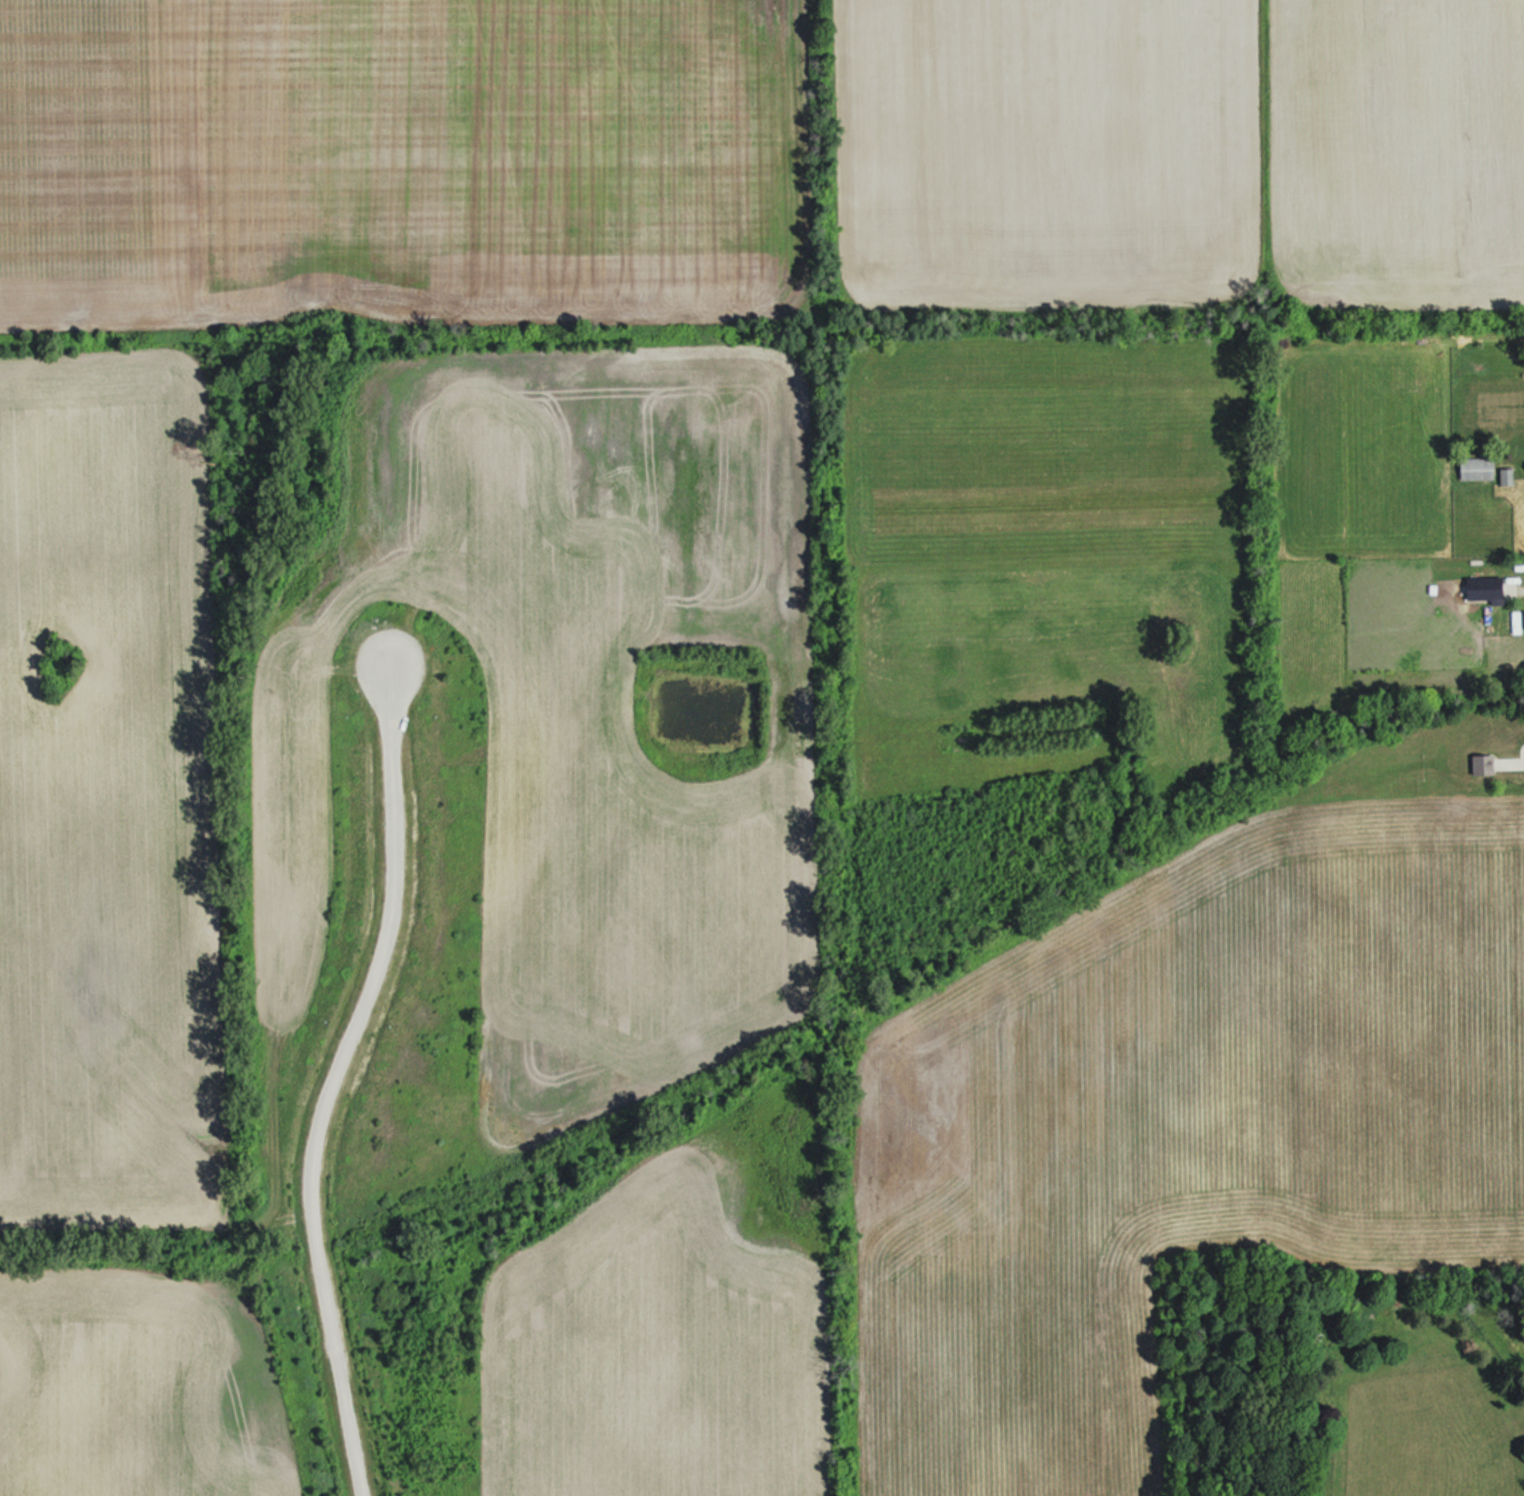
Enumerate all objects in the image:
building: (1478, 468)
building: (1486, 588)
road: (335, 1077)

